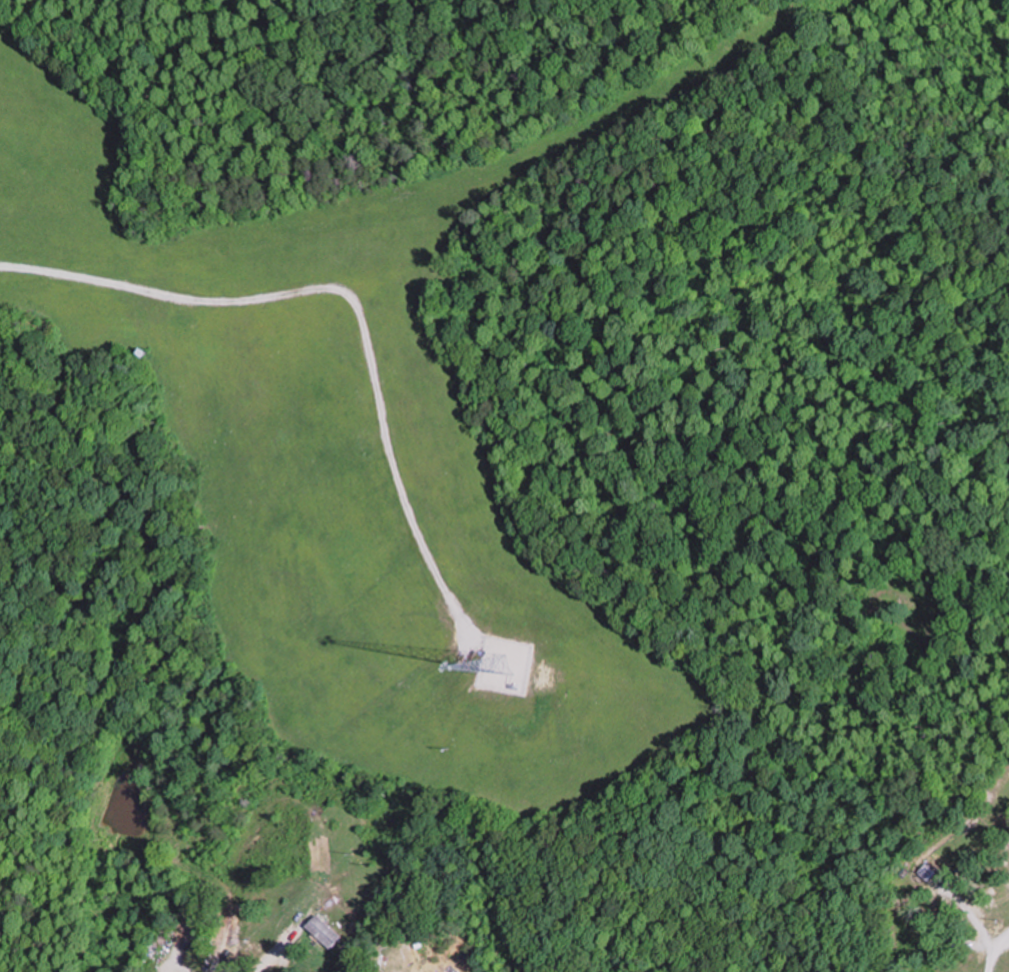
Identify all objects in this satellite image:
road: (355, 293)
building: (321, 856)
building: (932, 868)
road: (978, 913)
building: (329, 933)
road: (995, 951)

